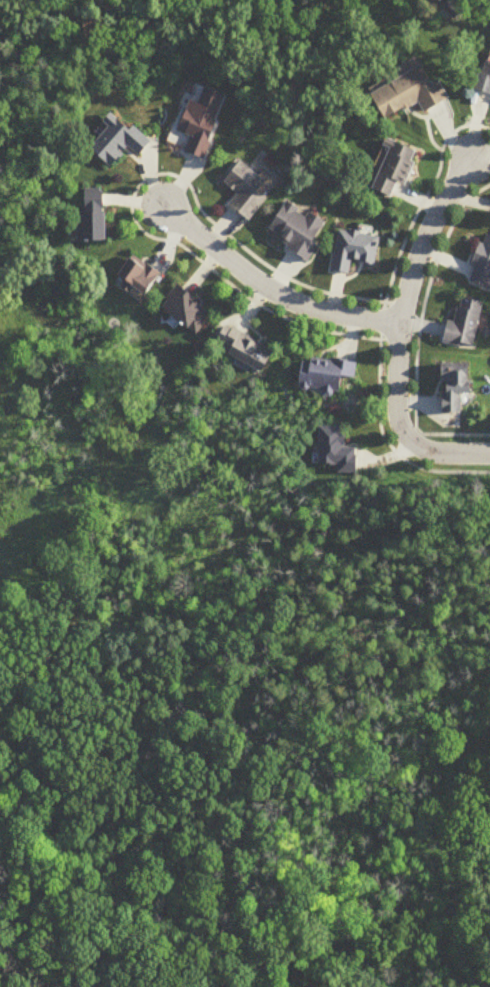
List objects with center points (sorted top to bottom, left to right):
building: (483, 80)
building: (411, 94)
building: (204, 120)
building: (119, 142)
building: (396, 167)
building: (247, 190)
road: (132, 194)
building: (96, 216)
building: (298, 230)
building: (355, 251)
building: (482, 266)
building: (140, 276)
road: (271, 291)
road: (405, 294)
building: (187, 311)
road: (380, 318)
building: (465, 325)
road: (416, 333)
building: (246, 350)
building: (328, 376)
building: (456, 389)
road: (412, 436)
building: (336, 451)
road: (446, 456)
park: (245, 735)

